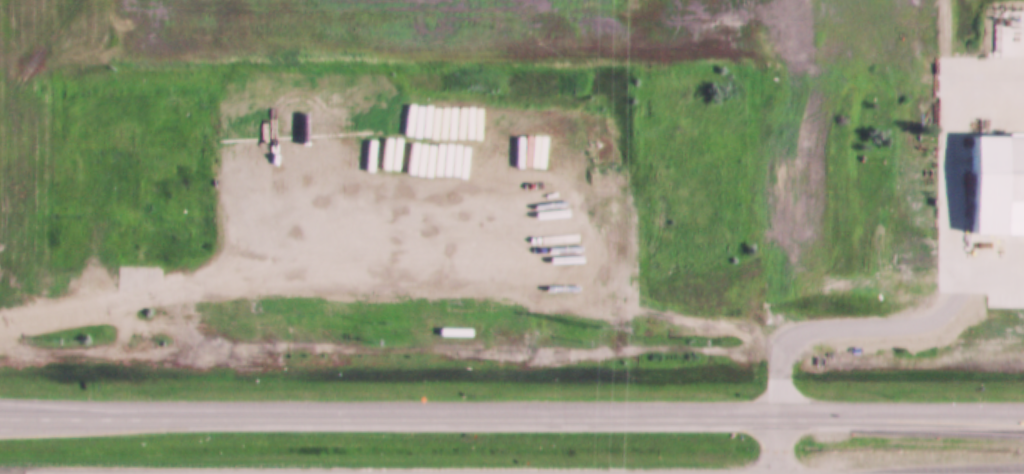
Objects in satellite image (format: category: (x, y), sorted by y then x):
crop: (105, 147)
building: (990, 176)
building: (132, 208)
power tower: (581, 328)
road: (389, 415)
road: (901, 418)

